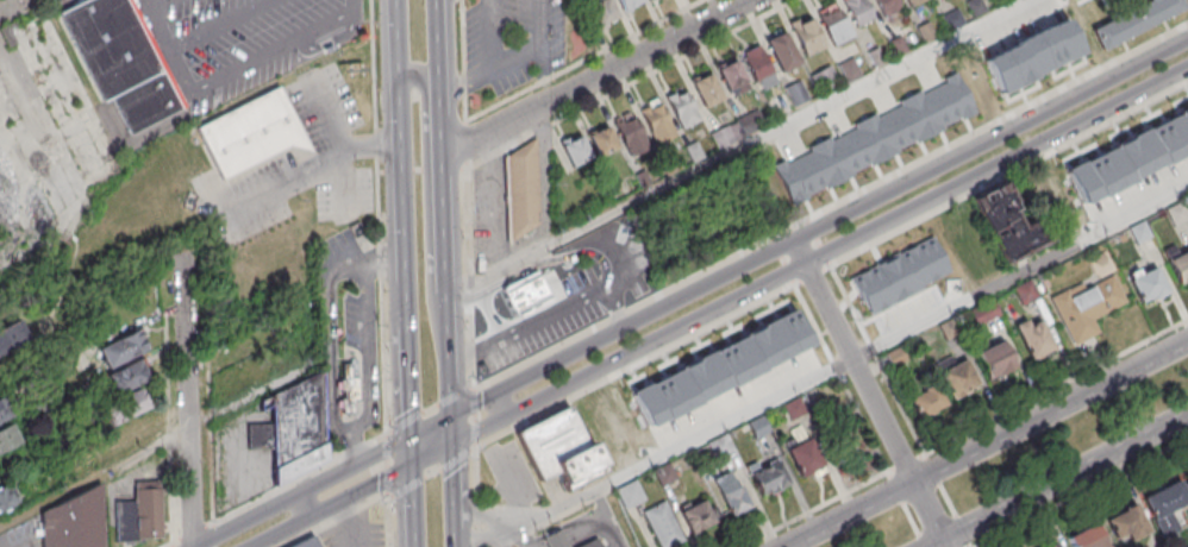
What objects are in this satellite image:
building: (651, 0)
road: (439, 1)
building: (913, 2)
building: (629, 4)
road: (145, 5)
road: (354, 7)
building: (886, 8)
building: (602, 11)
building: (858, 12)
road: (540, 17)
building: (1137, 20)
building: (833, 25)
road: (493, 33)
building: (808, 37)
road: (400, 38)
road: (188, 39)
road: (439, 52)
building: (782, 52)
building: (119, 59)
road: (463, 61)
road: (583, 61)
road: (250, 64)
building: (757, 64)
building: (1017, 64)
road: (494, 68)
building: (732, 77)
road: (598, 78)
road: (629, 83)
building: (706, 90)
building: (796, 95)
building: (682, 107)
building: (936, 119)
building: (657, 122)
building: (252, 133)
road: (751, 143)
road: (465, 144)
building: (607, 144)
building: (837, 153)
building: (1138, 157)
road: (319, 165)
road: (1009, 175)
building: (523, 194)
road: (444, 199)
road: (405, 203)
road: (831, 207)
road: (431, 210)
road: (840, 215)
building: (1009, 226)
road: (820, 257)
road: (534, 264)
building: (1180, 268)
road: (381, 273)
road: (814, 276)
road: (470, 278)
building: (1150, 287)
building: (898, 290)
building: (519, 296)
parking lot: (577, 298)
road: (570, 301)
road: (619, 304)
building: (1087, 308)
building: (12, 335)
building: (1036, 339)
building: (123, 348)
road: (450, 353)
road: (463, 356)
building: (995, 360)
building: (725, 364)
road: (637, 367)
road: (833, 369)
building: (127, 377)
road: (842, 379)
building: (959, 379)
road: (411, 383)
building: (352, 389)
road: (871, 392)
road: (192, 400)
building: (927, 402)
building: (130, 403)
road: (474, 404)
road: (501, 407)
building: (6, 408)
road: (431, 409)
traffic signals: (452, 416)
road: (476, 420)
road: (433, 426)
building: (299, 428)
road: (452, 432)
building: (131, 434)
traffic signals: (414, 436)
building: (7, 438)
road: (987, 444)
traffic signals: (454, 447)
road: (414, 451)
building: (562, 451)
road: (434, 457)
building: (805, 458)
traffic signals: (415, 466)
road: (433, 476)
road: (95, 477)
building: (768, 478)
road: (302, 479)
road: (1058, 480)
road: (454, 489)
road: (306, 491)
building: (630, 495)
building: (731, 495)
building: (7, 498)
road: (479, 498)
road: (333, 505)
road: (305, 507)
road: (415, 507)
building: (1167, 507)
road: (907, 509)
road: (815, 510)
building: (142, 517)
road: (608, 517)
building: (698, 517)
road: (333, 520)
building: (76, 521)
road: (349, 524)
building: (663, 526)
building: (1126, 526)
road: (193, 533)
road: (214, 535)
building: (1088, 537)
road: (456, 539)
road: (509, 540)
building: (558, 541)
building: (308, 543)
road: (173, 545)
building: (598, 545)
building: (1056, 545)

